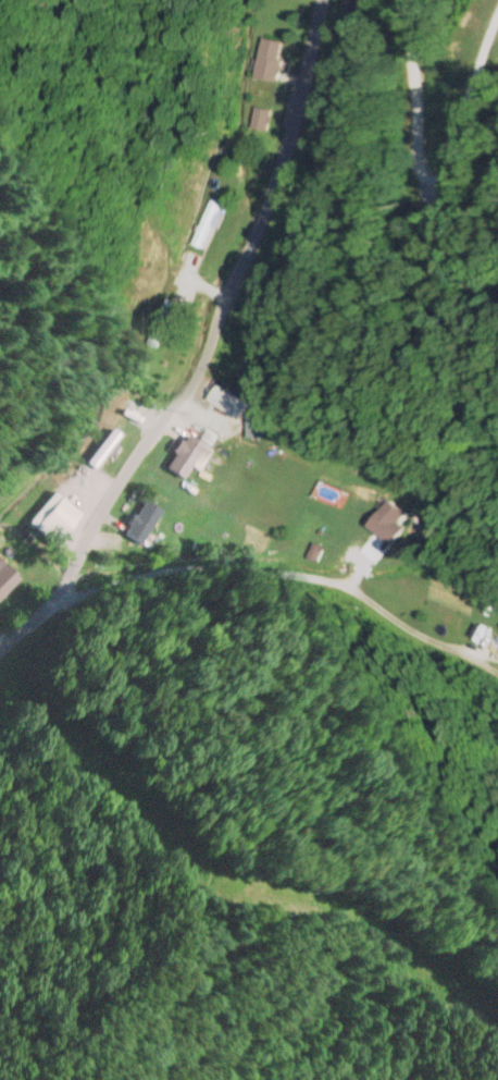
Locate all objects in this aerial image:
building: (267, 58)
building: (260, 118)
building: (211, 217)
road: (206, 346)
building: (179, 455)
building: (51, 519)
building: (138, 520)
building: (381, 520)
building: (4, 577)
road: (275, 634)

